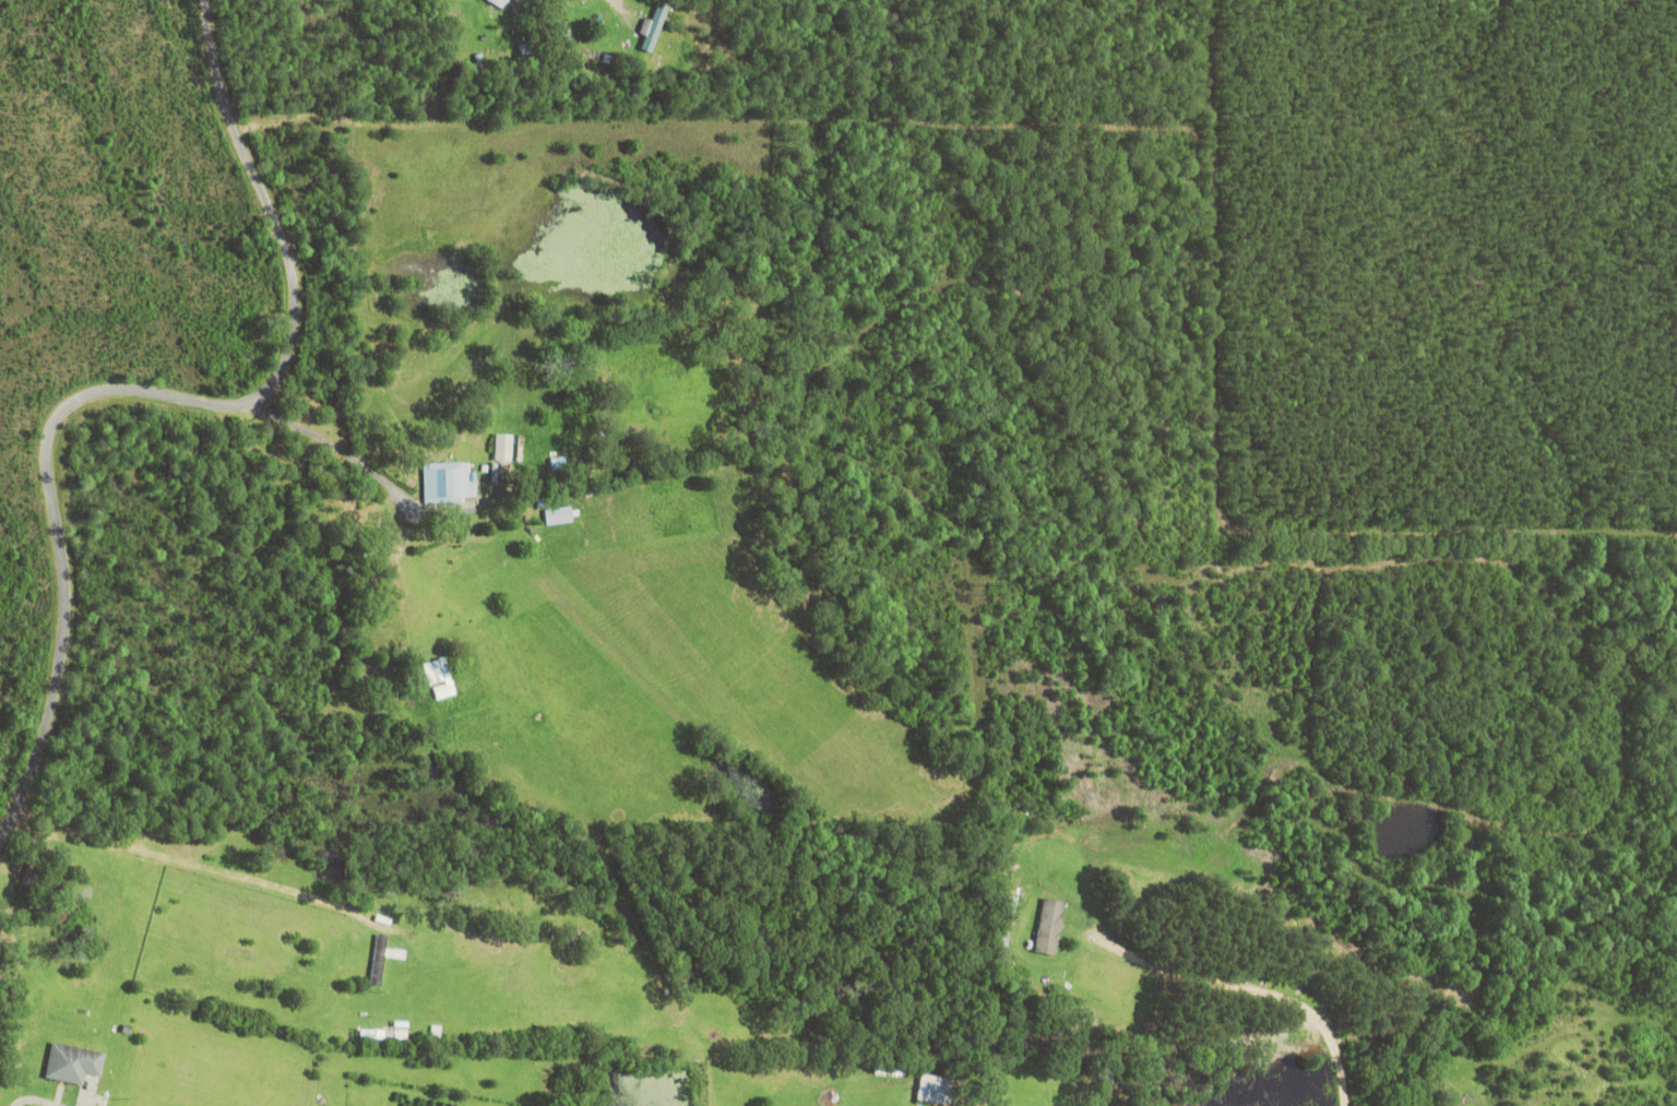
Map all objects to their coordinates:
building: (500, 2)
building: (654, 25)
road: (150, 392)
building: (503, 447)
building: (452, 481)
building: (435, 671)
building: (445, 690)
building: (1050, 926)
building: (380, 959)
road: (1254, 989)
building: (73, 1061)
building: (935, 1087)

